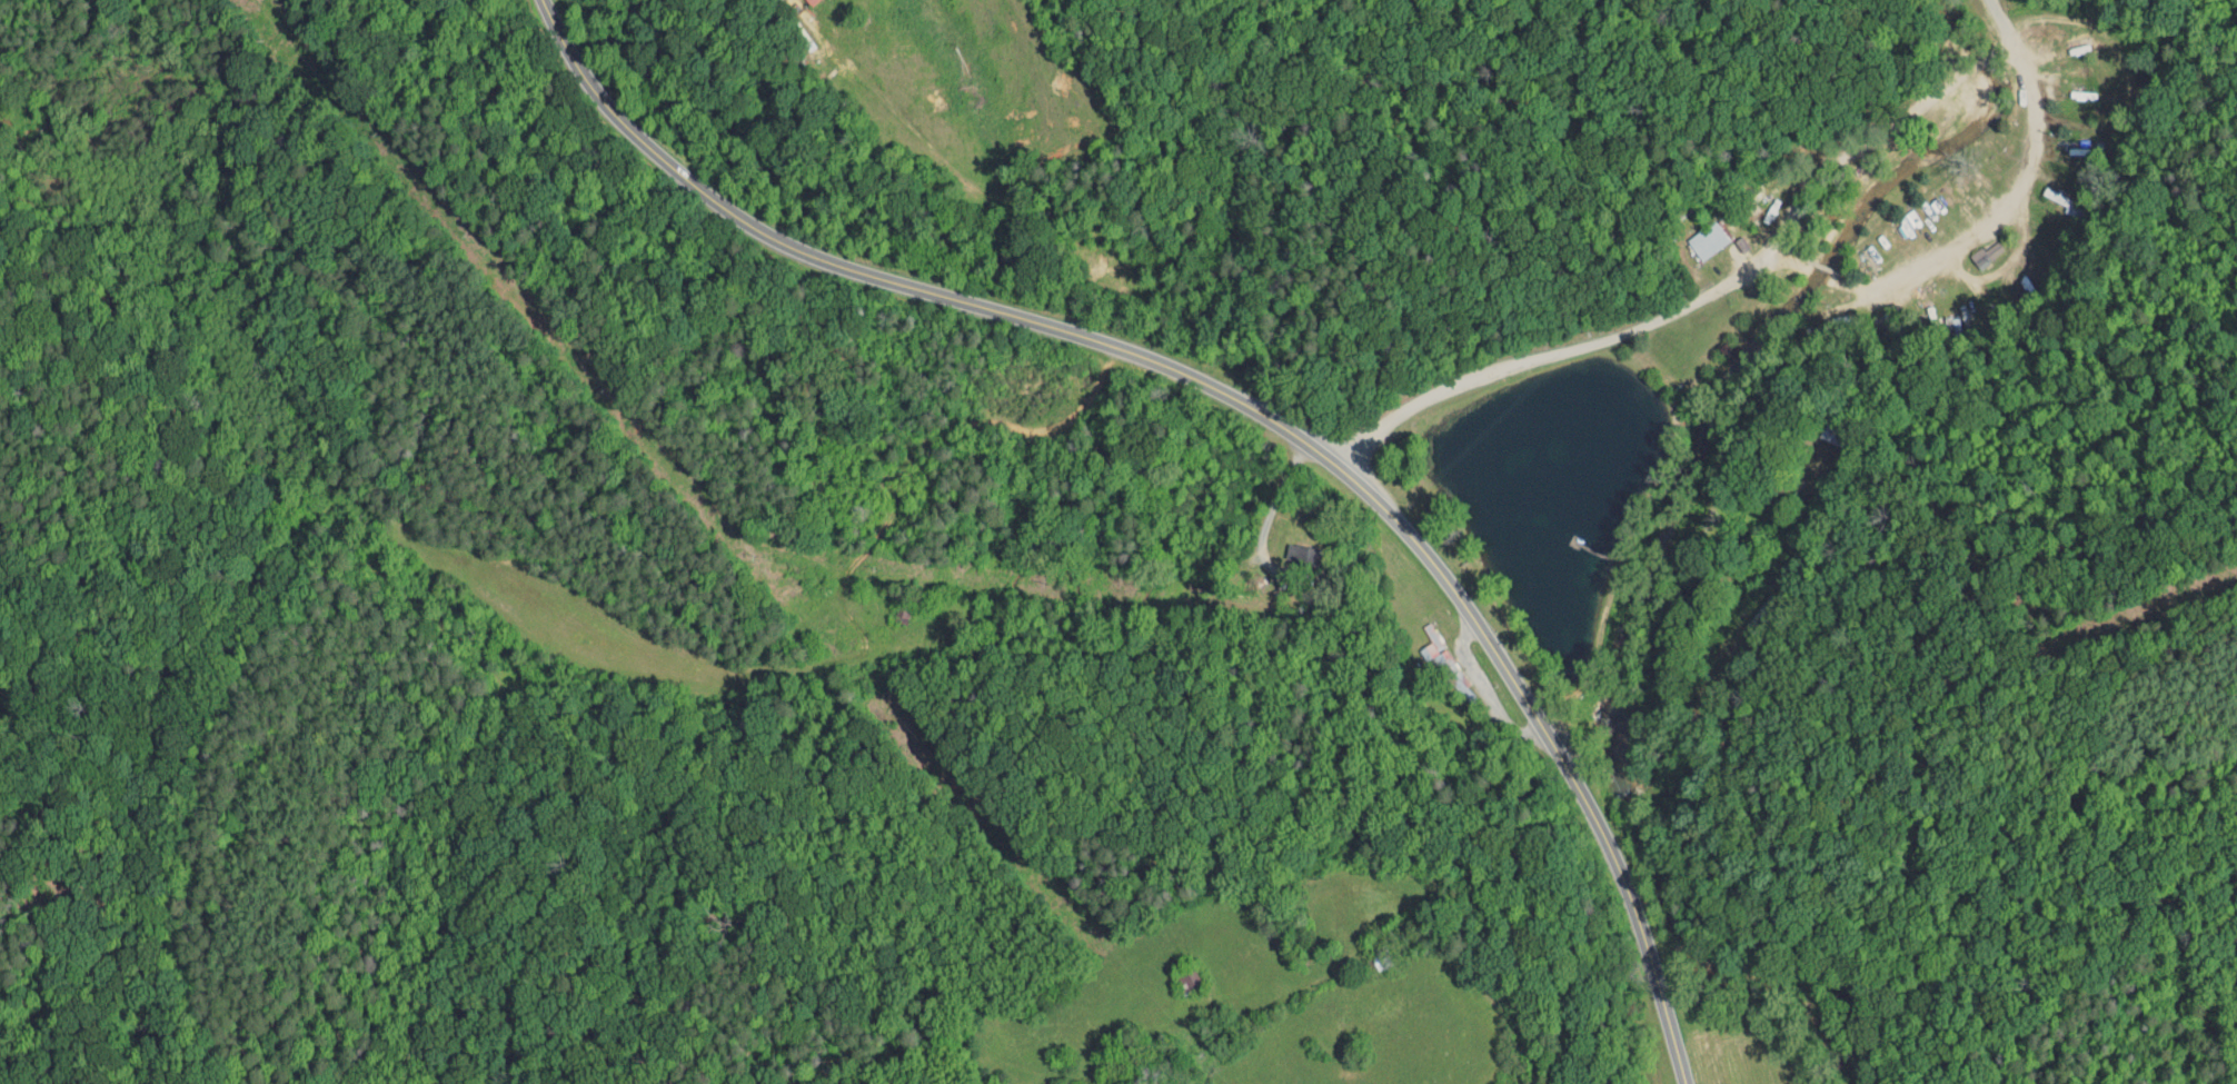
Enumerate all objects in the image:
road: (2007, 212)
building: (1694, 232)
building: (1970, 247)
road: (1789, 257)
road: (1827, 274)
road: (1720, 285)
road: (1242, 402)
road: (1271, 506)
building: (1285, 547)
building: (1421, 642)

